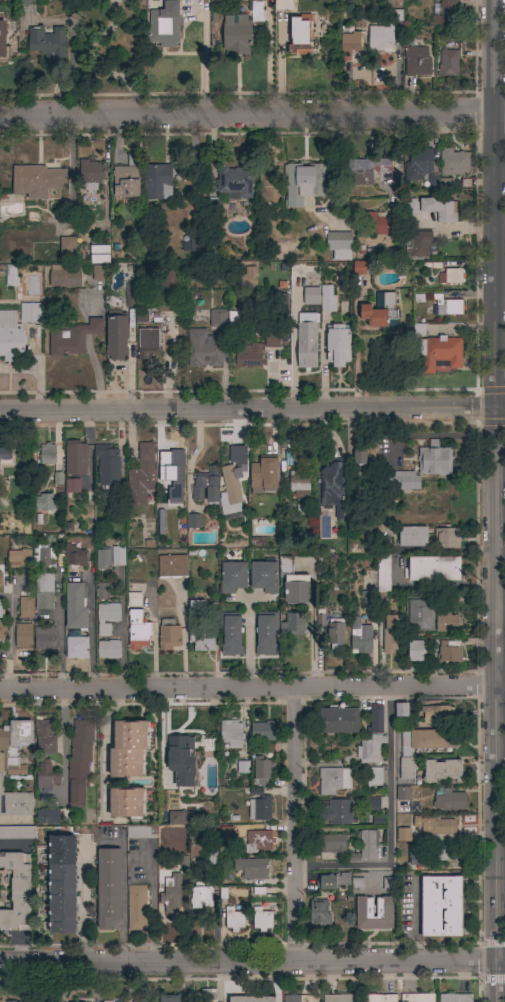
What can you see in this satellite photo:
building: (265, 0)
building: (24, 3)
building: (283, 5)
building: (445, 12)
building: (395, 14)
building: (164, 25)
building: (237, 35)
building: (299, 36)
building: (379, 38)
building: (350, 41)
building: (47, 42)
building: (3, 44)
building: (416, 60)
building: (448, 62)
road: (91, 64)
road: (252, 112)
building: (453, 162)
building: (418, 164)
building: (368, 171)
building: (90, 175)
building: (37, 181)
building: (125, 181)
building: (157, 182)
building: (235, 182)
building: (302, 182)
building: (431, 208)
building: (377, 224)
building: (197, 244)
building: (417, 244)
building: (67, 245)
building: (339, 245)
building: (99, 253)
building: (432, 266)
building: (359, 268)
building: (97, 272)
building: (65, 276)
building: (451, 276)
building: (11, 277)
building: (248, 278)
building: (169, 281)
building: (129, 294)
building: (311, 296)
building: (327, 299)
building: (447, 306)
building: (280, 309)
building: (31, 312)
building: (379, 312)
building: (141, 317)
building: (218, 317)
building: (235, 317)
building: (418, 330)
building: (116, 334)
building: (11, 336)
building: (72, 338)
building: (272, 338)
building: (306, 340)
building: (147, 343)
building: (338, 345)
building: (204, 349)
road: (356, 349)
building: (439, 353)
building: (247, 356)
road: (294, 358)
road: (170, 363)
road: (323, 364)
road: (252, 411)
building: (47, 454)
building: (5, 456)
building: (75, 458)
building: (359, 458)
building: (434, 459)
building: (107, 466)
building: (264, 473)
building: (141, 476)
building: (403, 480)
building: (174, 483)
building: (299, 484)
building: (331, 484)
building: (72, 486)
building: (206, 487)
building: (230, 494)
road: (493, 501)
building: (43, 502)
building: (193, 521)
building: (413, 536)
building: (446, 538)
building: (73, 555)
building: (117, 556)
building: (43, 557)
building: (18, 558)
building: (102, 559)
building: (283, 566)
building: (172, 567)
building: (432, 569)
building: (263, 575)
building: (232, 577)
building: (0, 578)
building: (382, 582)
building: (0, 585)
building: (297, 588)
building: (102, 590)
building: (44, 591)
building: (134, 600)
building: (25, 607)
building: (75, 607)
building: (0, 611)
building: (420, 615)
building: (107, 617)
road: (12, 618)
building: (319, 618)
building: (446, 622)
building: (292, 624)
building: (199, 628)
road: (92, 630)
building: (137, 630)
building: (265, 633)
building: (335, 633)
building: (390, 633)
building: (1, 634)
road: (58, 634)
building: (230, 634)
building: (22, 635)
building: (168, 635)
building: (360, 637)
building: (44, 638)
building: (76, 645)
building: (108, 649)
building: (415, 650)
building: (449, 651)
road: (9, 666)
road: (252, 688)
building: (401, 709)
building: (437, 714)
building: (338, 719)
building: (375, 720)
building: (262, 731)
building: (231, 734)
building: (45, 737)
building: (426, 740)
building: (13, 746)
road: (66, 747)
building: (128, 749)
building: (369, 749)
road: (101, 750)
building: (177, 754)
building: (80, 760)
building: (242, 767)
building: (406, 768)
building: (260, 770)
building: (442, 770)
building: (46, 775)
building: (374, 776)
building: (333, 780)
building: (403, 793)
building: (450, 800)
building: (15, 803)
building: (126, 803)
building: (372, 804)
building: (260, 808)
building: (338, 812)
building: (47, 817)
building: (176, 819)
road: (388, 825)
building: (439, 825)
road: (289, 826)
building: (17, 832)
building: (141, 832)
building: (226, 833)
building: (403, 834)
building: (259, 841)
building: (332, 843)
building: (368, 845)
building: (428, 854)
building: (251, 868)
building: (334, 881)
building: (62, 884)
building: (357, 884)
building: (389, 884)
building: (108, 886)
building: (172, 891)
building: (16, 892)
building: (201, 896)
road: (81, 904)
building: (441, 906)
building: (136, 907)
building: (384, 907)
building: (319, 913)
building: (234, 918)
building: (261, 919)
road: (410, 922)
road: (252, 965)
building: (205, 996)
building: (169, 998)
building: (299, 998)
building: (339, 998)
building: (379, 998)
building: (417, 998)
building: (455, 998)
building: (250, 999)
building: (136, 1000)
building: (0, 1001)
building: (10, 1001)
building: (108, 1001)

